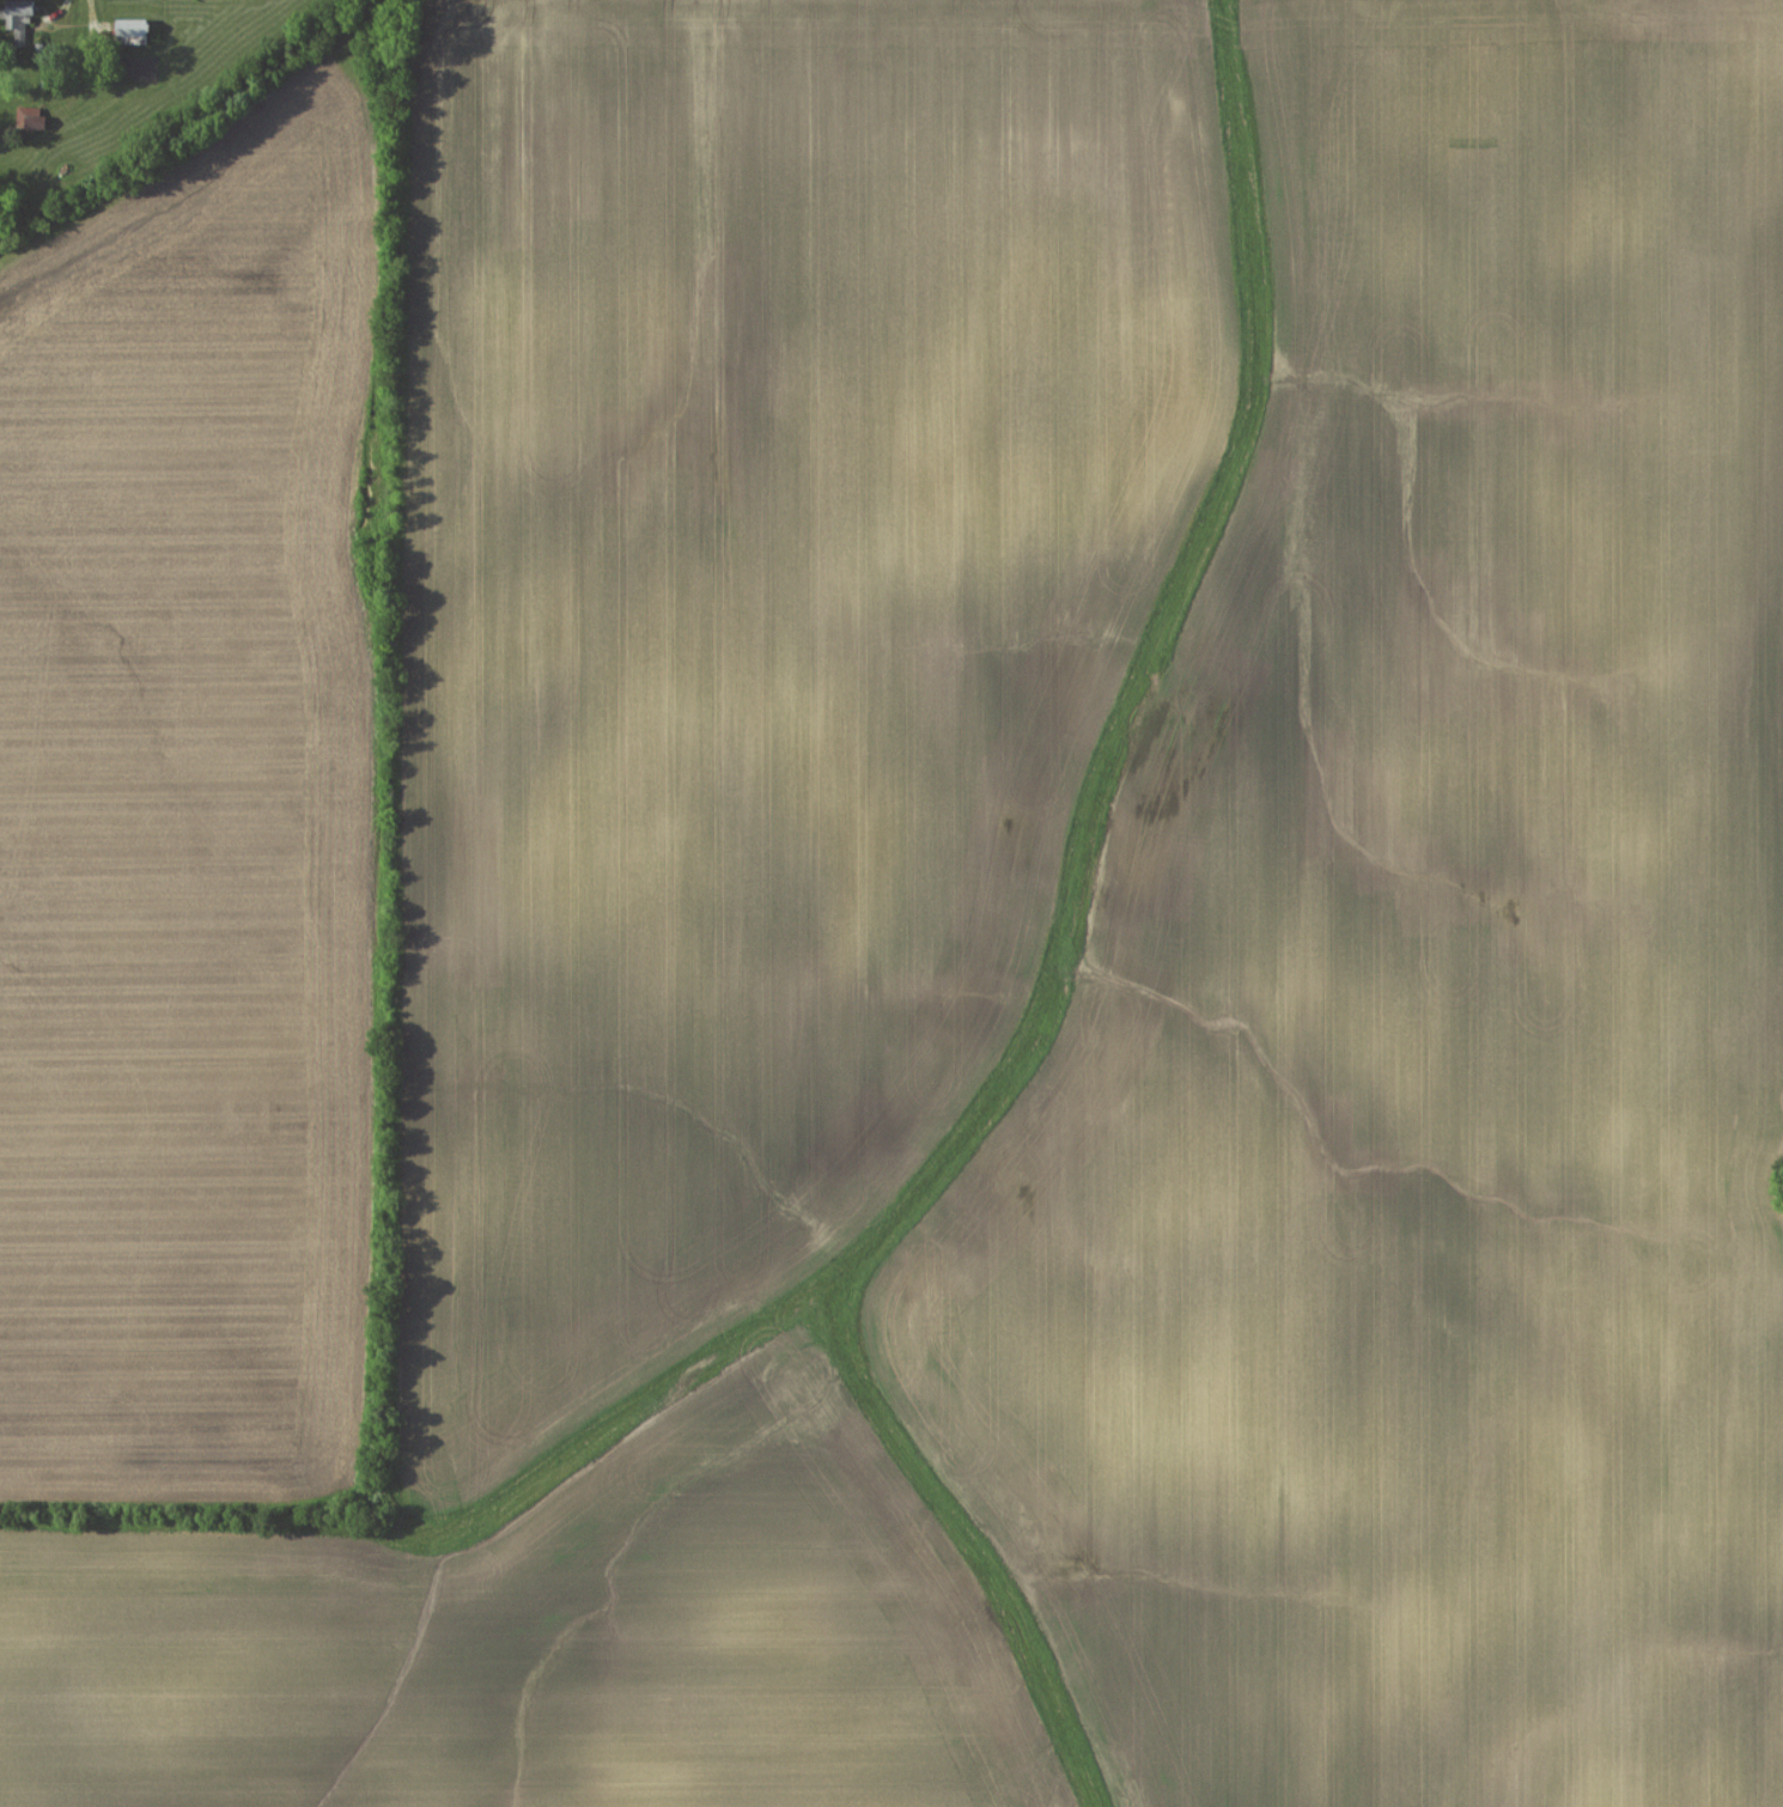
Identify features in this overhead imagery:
building: (135, 30)

